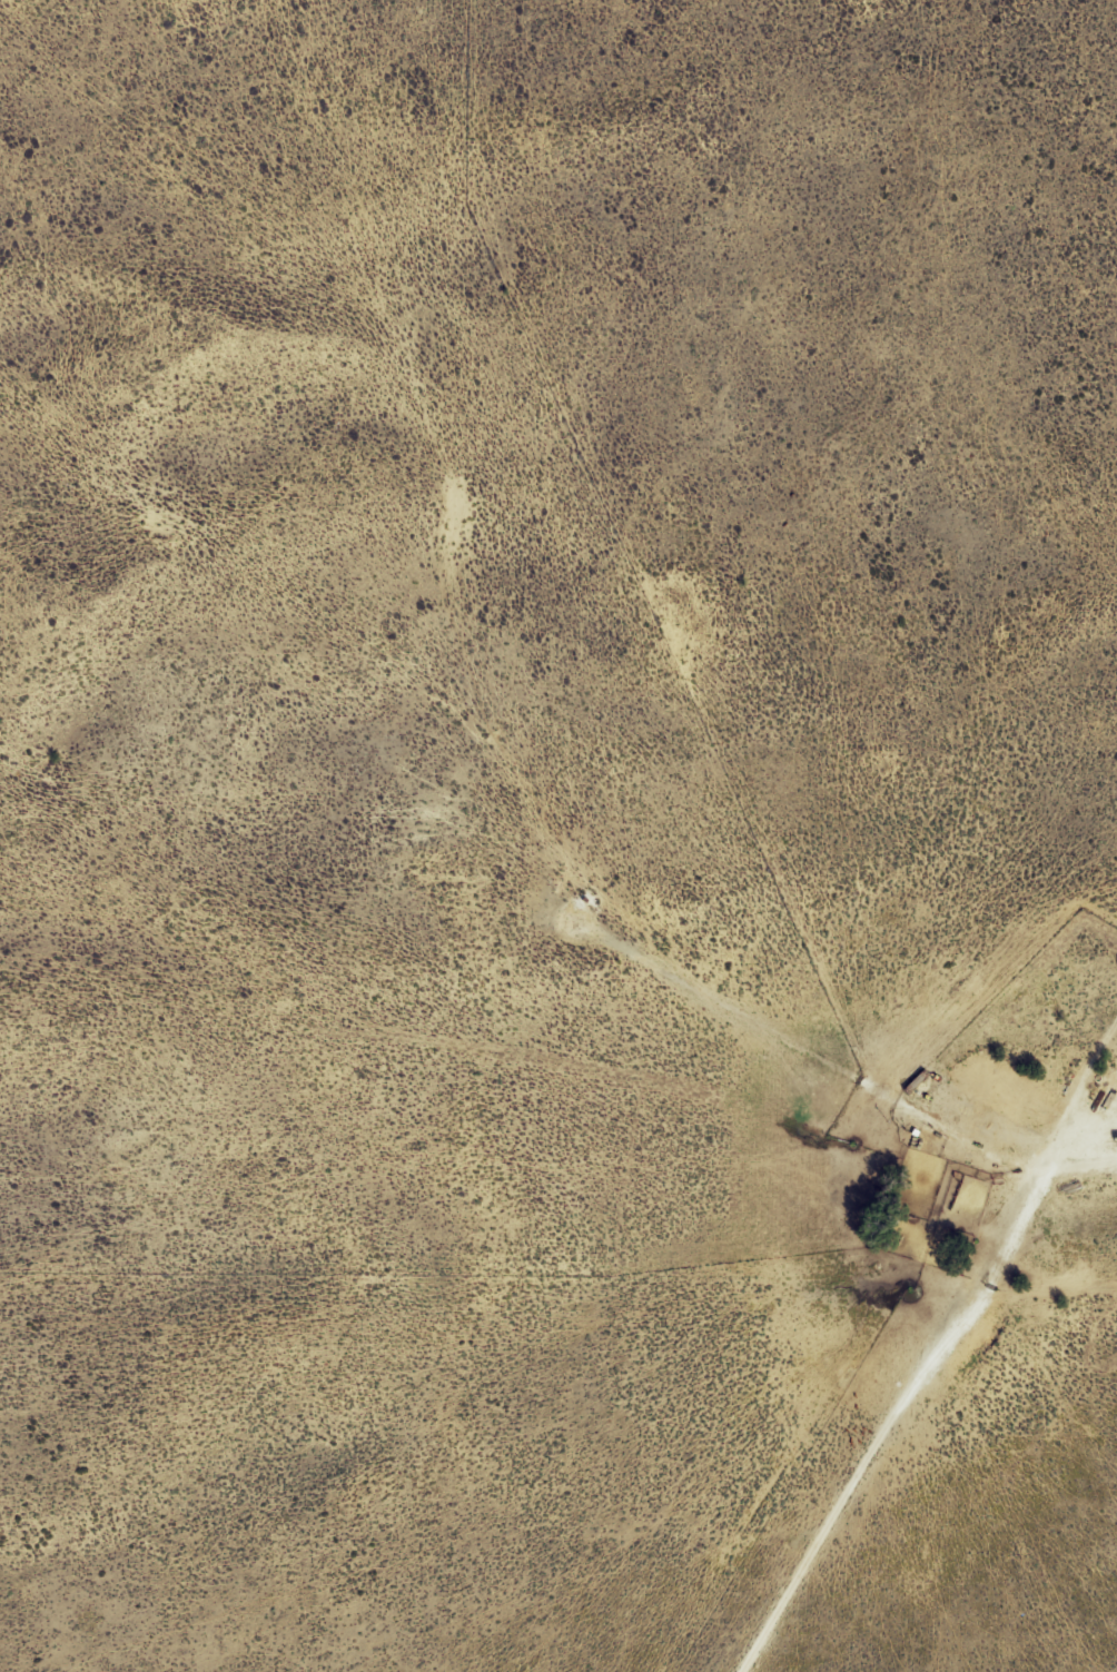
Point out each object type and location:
road: (929, 1391)

